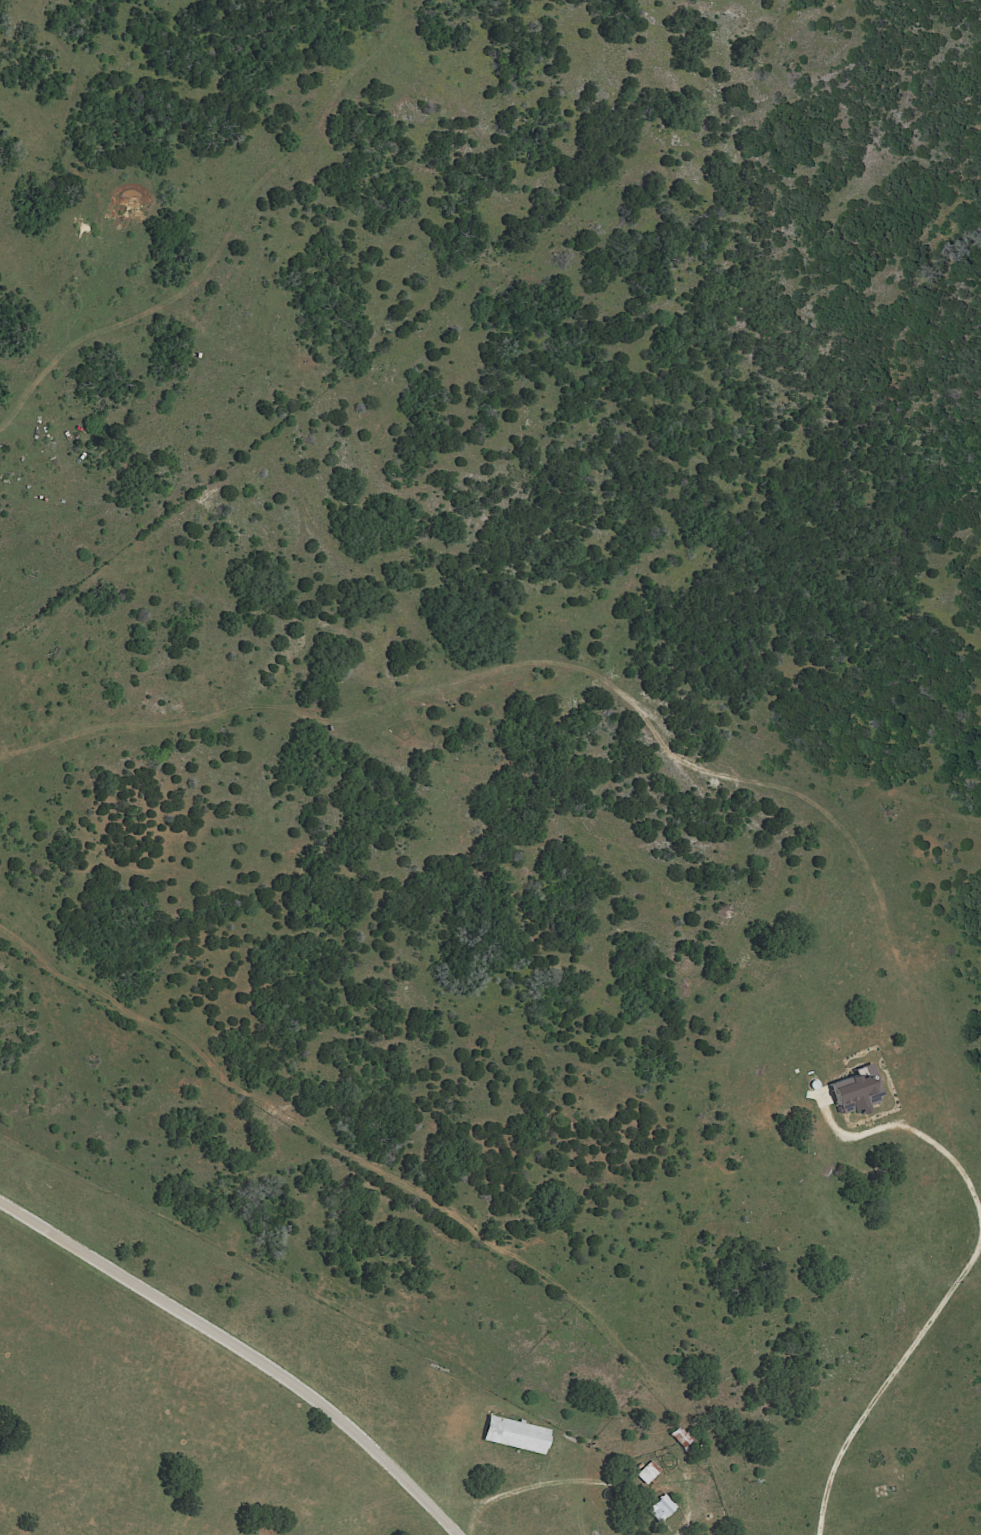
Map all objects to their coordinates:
building: (852, 1091)
road: (954, 1280)
road: (242, 1350)
building: (513, 1434)
building: (645, 1472)
road: (570, 1482)
building: (658, 1508)
road: (466, 1516)

